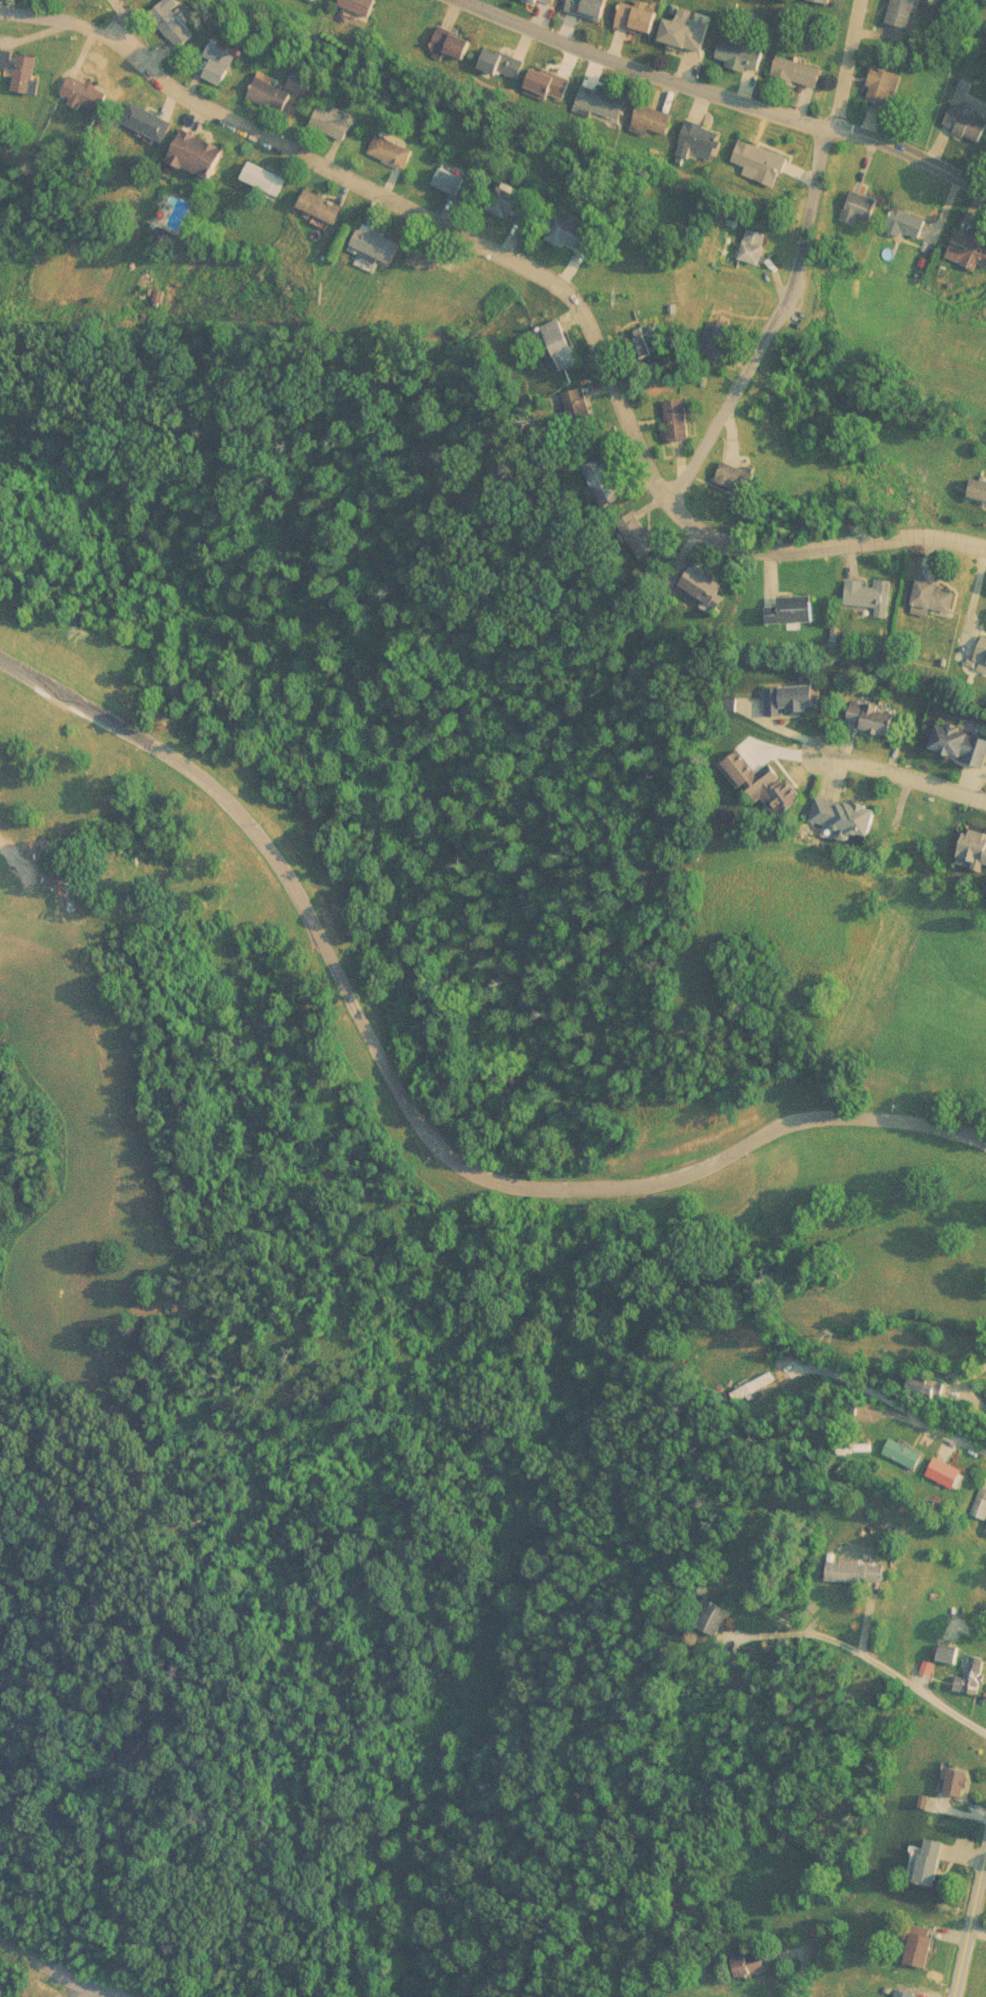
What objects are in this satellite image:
building: (362, 1)
building: (589, 3)
building: (895, 6)
building: (633, 8)
building: (172, 14)
building: (680, 21)
building: (448, 31)
building: (736, 40)
building: (215, 50)
building: (495, 53)
building: (19, 59)
building: (793, 59)
road: (842, 59)
building: (306, 69)
building: (544, 71)
building: (875, 73)
building: (80, 80)
building: (266, 80)
road: (738, 87)
building: (596, 90)
building: (648, 106)
building: (142, 109)
building: (329, 109)
building: (961, 110)
building: (700, 127)
building: (388, 138)
building: (193, 142)
building: (755, 148)
building: (262, 166)
building: (455, 171)
building: (853, 191)
building: (514, 193)
building: (317, 194)
building: (899, 208)
building: (566, 222)
building: (372, 231)
building: (748, 234)
building: (966, 237)
building: (423, 255)
road: (537, 263)
building: (668, 296)
road: (766, 311)
building: (708, 326)
building: (555, 331)
building: (672, 406)
building: (729, 465)
building: (599, 468)
building: (976, 474)
building: (698, 579)
building: (863, 580)
building: (924, 583)
building: (796, 597)
building: (979, 637)
building: (786, 685)
building: (868, 707)
building: (954, 733)
road: (900, 766)
building: (754, 770)
building: (840, 805)
building: (971, 836)
road: (12, 848)
building: (50, 876)
road: (405, 1098)
road: (951, 1432)
road: (972, 1937)
road: (69, 1972)
road: (80, 1988)
road: (103, 1988)

